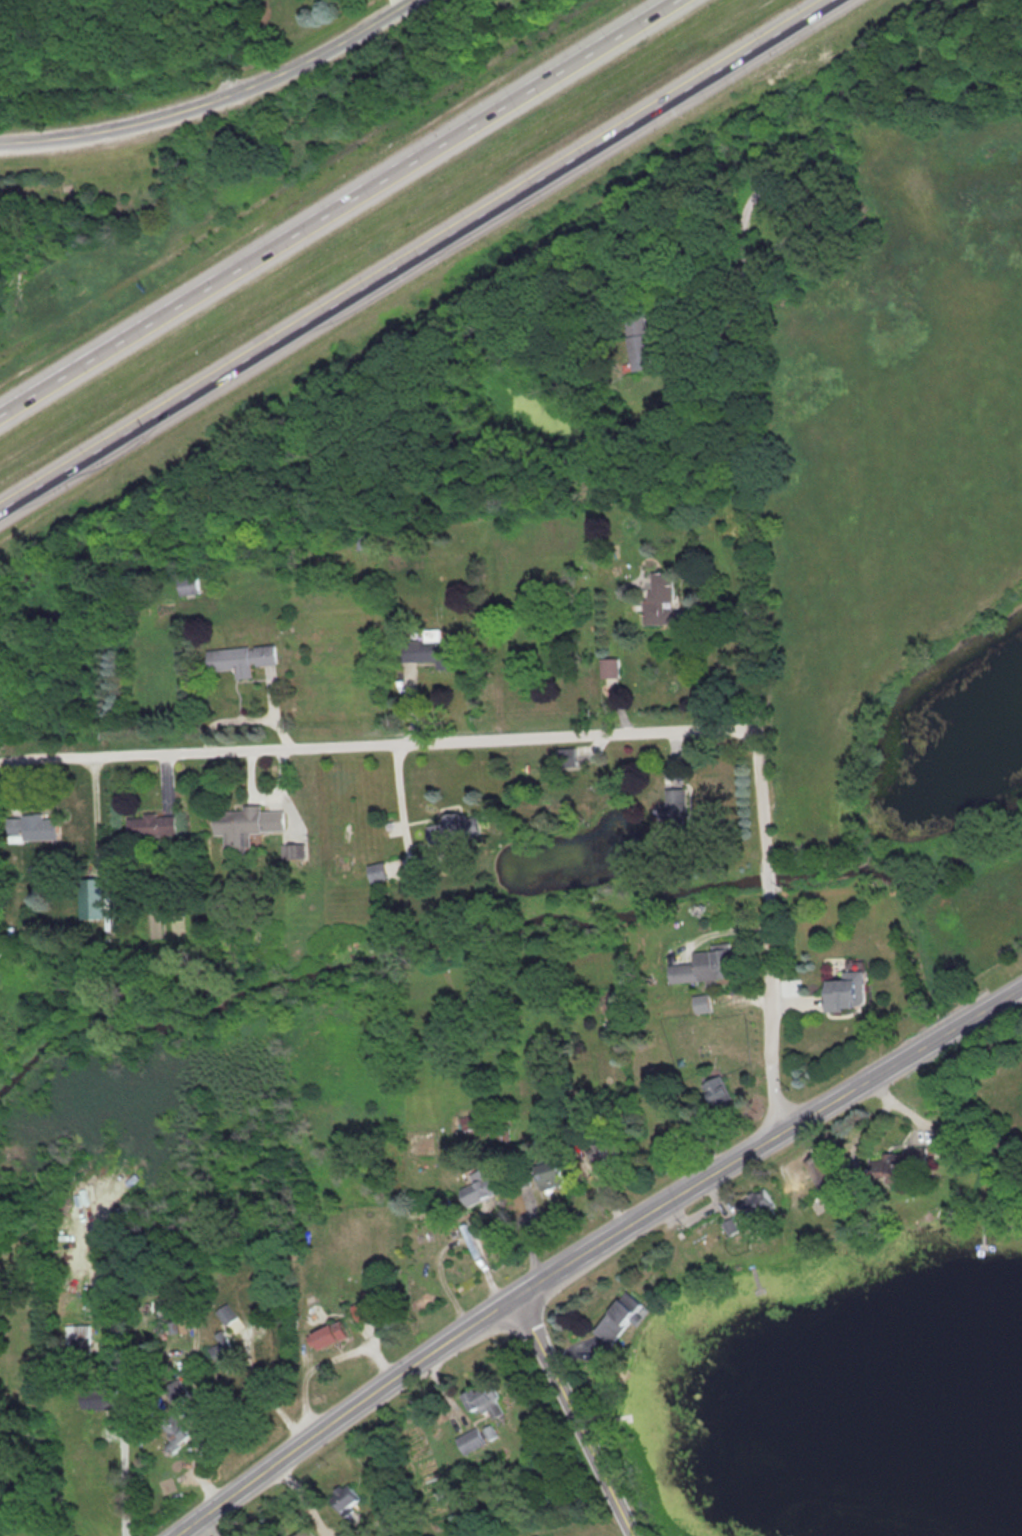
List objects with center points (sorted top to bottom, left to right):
road: (413, 3)
road: (221, 48)
road: (213, 104)
road: (758, 190)
road: (342, 209)
building: (420, 256)
road: (421, 257)
road: (699, 288)
building: (638, 341)
building: (43, 488)
park: (907, 519)
building: (362, 541)
road: (752, 569)
building: (188, 585)
building: (659, 598)
building: (428, 650)
building: (241, 659)
building: (610, 672)
road: (381, 743)
road: (3, 760)
road: (395, 804)
building: (675, 804)
building: (245, 824)
building: (151, 826)
building: (453, 828)
building: (31, 829)
building: (294, 852)
building: (376, 872)
road: (770, 879)
building: (90, 899)
building: (703, 967)
building: (844, 991)
building: (700, 1004)
road: (776, 1016)
road: (901, 1061)
building: (716, 1093)
building: (467, 1125)
building: (547, 1176)
building: (476, 1191)
road: (650, 1215)
building: (366, 1307)
building: (226, 1315)
building: (617, 1317)
building: (326, 1336)
building: (77, 1341)
building: (484, 1402)
road: (124, 1405)
road: (349, 1414)
road: (578, 1416)
building: (173, 1432)
building: (490, 1433)
building: (470, 1442)
building: (347, 1503)
building: (304, 1532)
building: (545, 1534)

